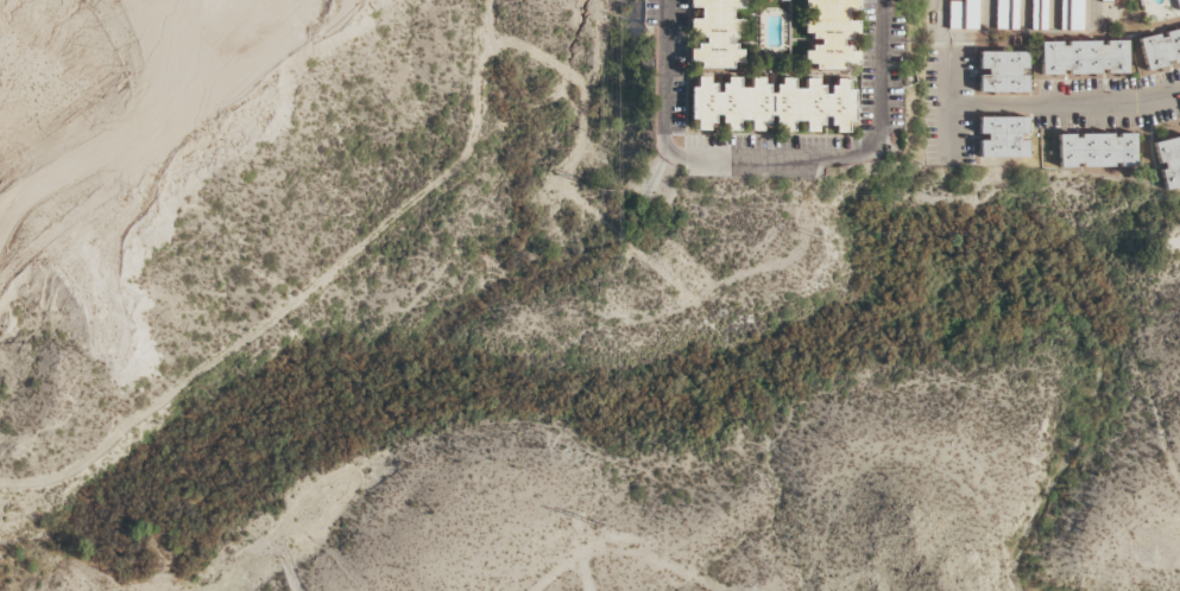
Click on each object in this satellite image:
building: (1106, 1)
road: (938, 2)
building: (1176, 5)
building: (964, 14)
building: (1007, 14)
building: (1039, 15)
building: (1072, 15)
building: (715, 34)
building: (828, 36)
building: (1160, 49)
building: (1083, 58)
building: (1003, 72)
road: (1065, 103)
building: (772, 104)
road: (947, 106)
building: (1002, 136)
building: (1096, 151)
road: (772, 159)
building: (1168, 161)
power tower: (600, 182)
road: (302, 291)
power tower: (600, 526)
road: (251, 549)
road: (563, 566)

